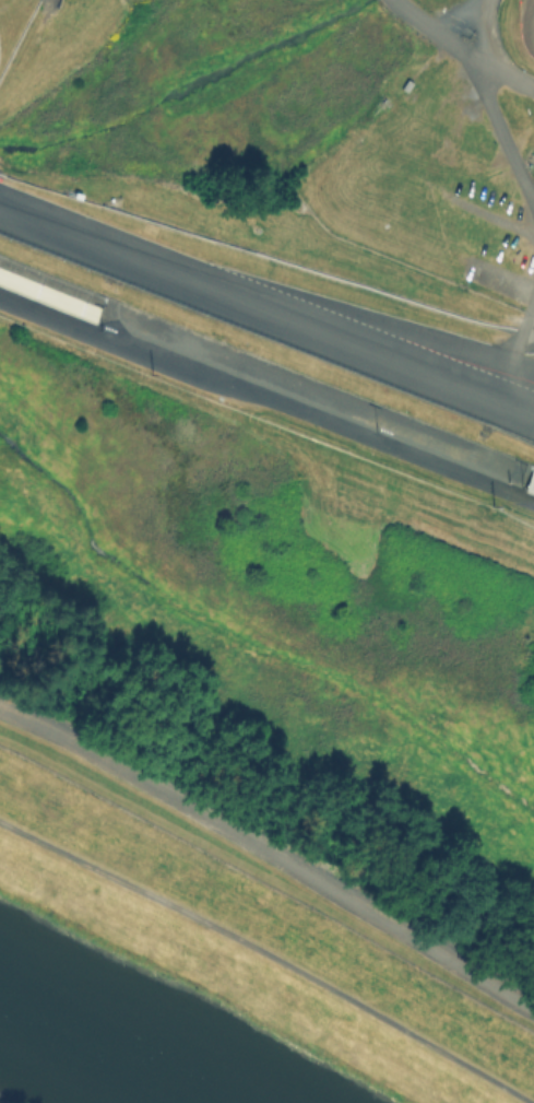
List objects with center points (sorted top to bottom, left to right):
raceway: (531, 21)
road: (460, 49)
stadium: (290, 224)
raceway: (265, 322)
raceway: (336, 325)
road: (520, 332)
road: (268, 398)
road: (270, 848)
park: (248, 947)
road: (271, 952)

